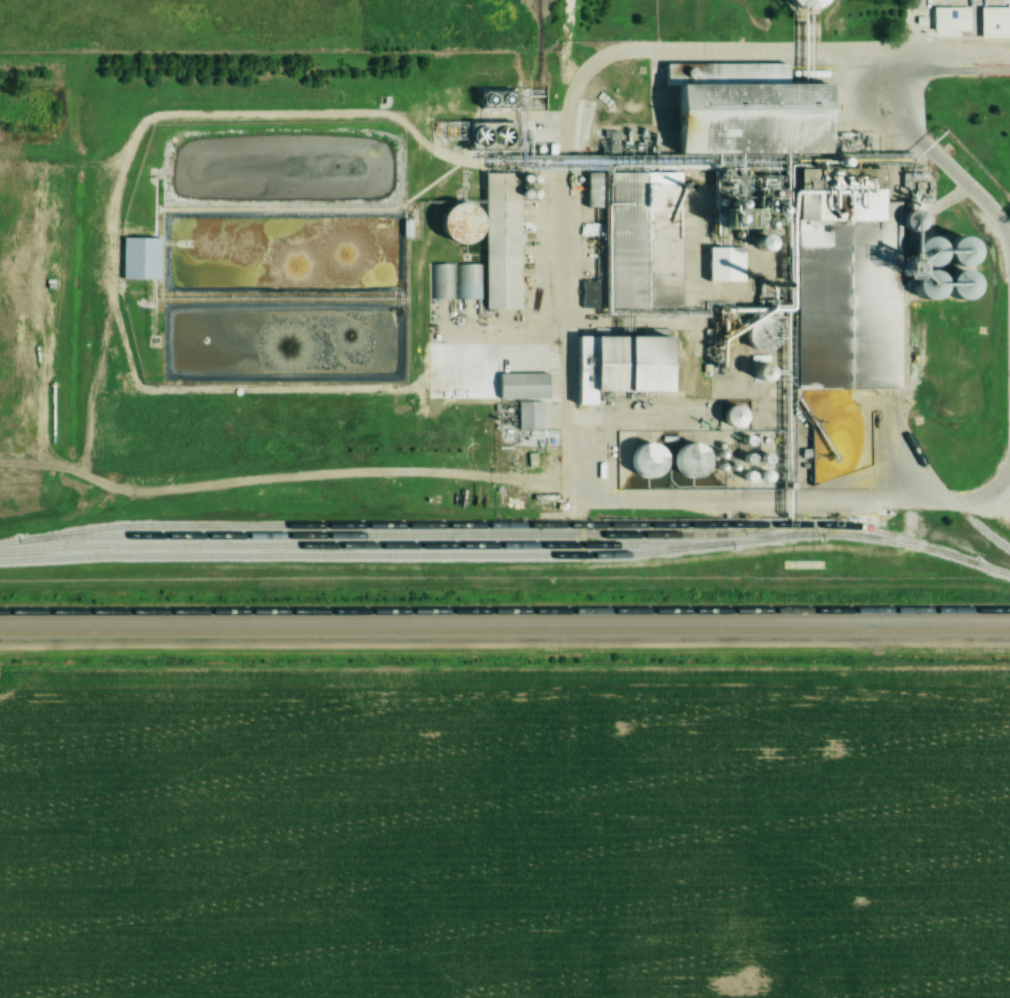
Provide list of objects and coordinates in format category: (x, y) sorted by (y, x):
building: (955, 15)
building: (997, 18)
road: (959, 55)
building: (502, 98)
building: (757, 122)
building: (452, 131)
building: (493, 136)
road: (561, 200)
building: (464, 224)
building: (763, 244)
building: (496, 248)
building: (147, 254)
building: (724, 265)
building: (639, 281)
building: (441, 282)
railway: (891, 404)
building: (692, 461)
building: (647, 462)
railway: (508, 524)
railway: (429, 536)
railway: (347, 547)
railway: (474, 556)
railway: (505, 611)
railway: (505, 622)
railway: (505, 631)

